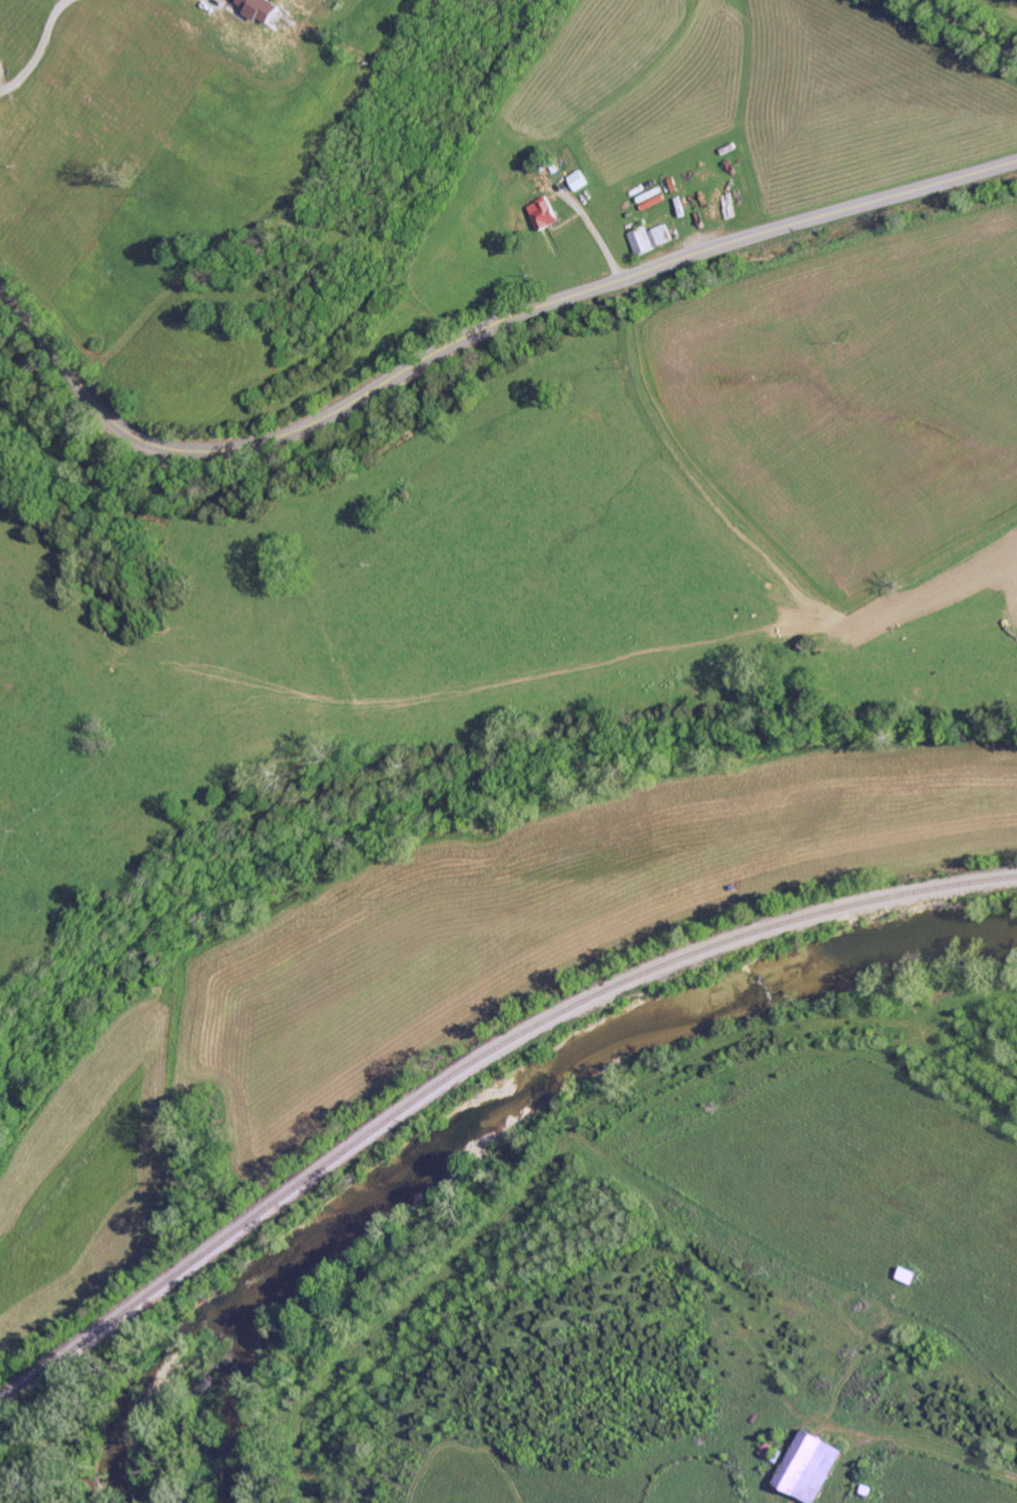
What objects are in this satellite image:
building: (265, 9)
road: (37, 47)
road: (2, 81)
building: (546, 213)
road: (592, 234)
building: (663, 235)
road: (473, 335)
railway: (472, 1064)
building: (804, 1466)

